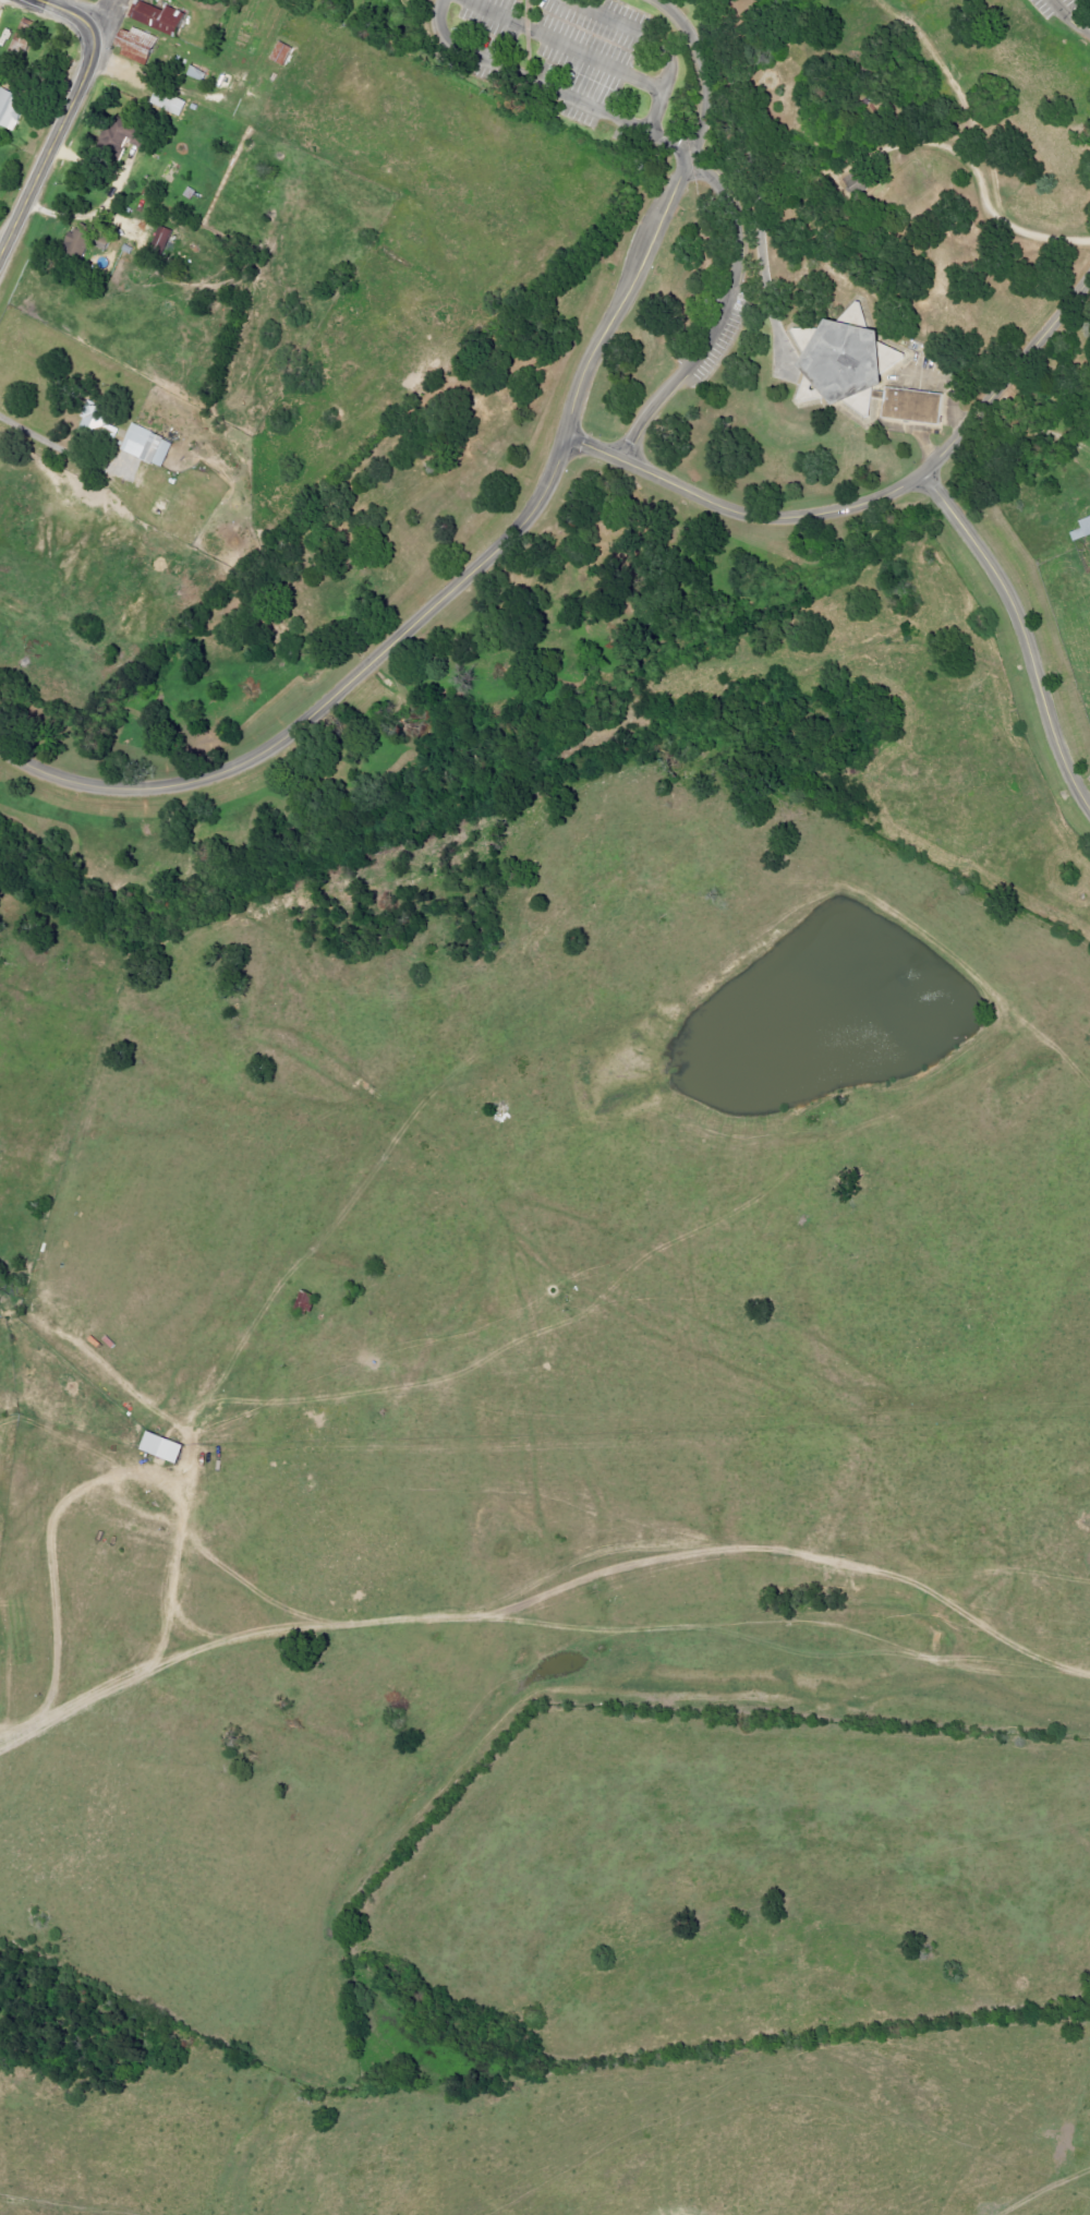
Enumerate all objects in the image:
parking lot: (1052, 7)
road: (68, 12)
road: (101, 16)
building: (157, 17)
road: (1070, 19)
building: (25, 41)
road: (650, 44)
building: (135, 45)
road: (562, 45)
building: (280, 53)
parking lot: (564, 56)
park: (171, 58)
building: (196, 71)
road: (700, 74)
road: (734, 85)
road: (547, 86)
building: (168, 101)
road: (967, 106)
building: (10, 109)
building: (123, 137)
road: (50, 146)
road: (853, 158)
building: (84, 240)
building: (161, 240)
road: (723, 312)
building: (837, 359)
building: (909, 405)
road: (1053, 406)
building: (94, 423)
building: (145, 445)
road: (60, 447)
park: (677, 481)
road: (863, 498)
building: (1080, 529)
road: (440, 601)
road: (1024, 629)
building: (159, 1447)
road: (156, 1627)

